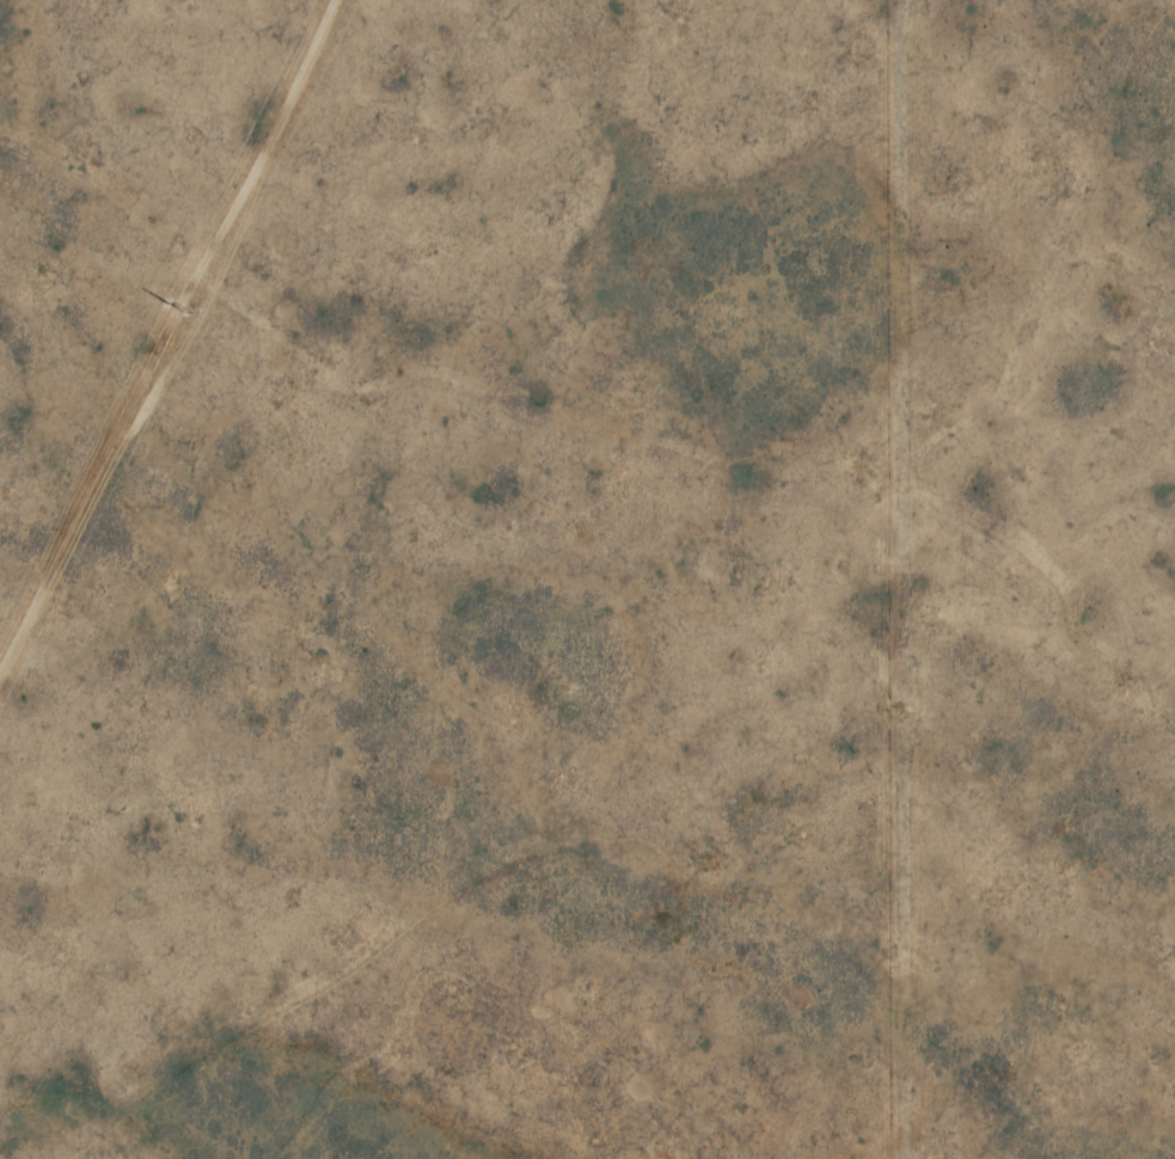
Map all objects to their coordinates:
power tower: (173, 307)

